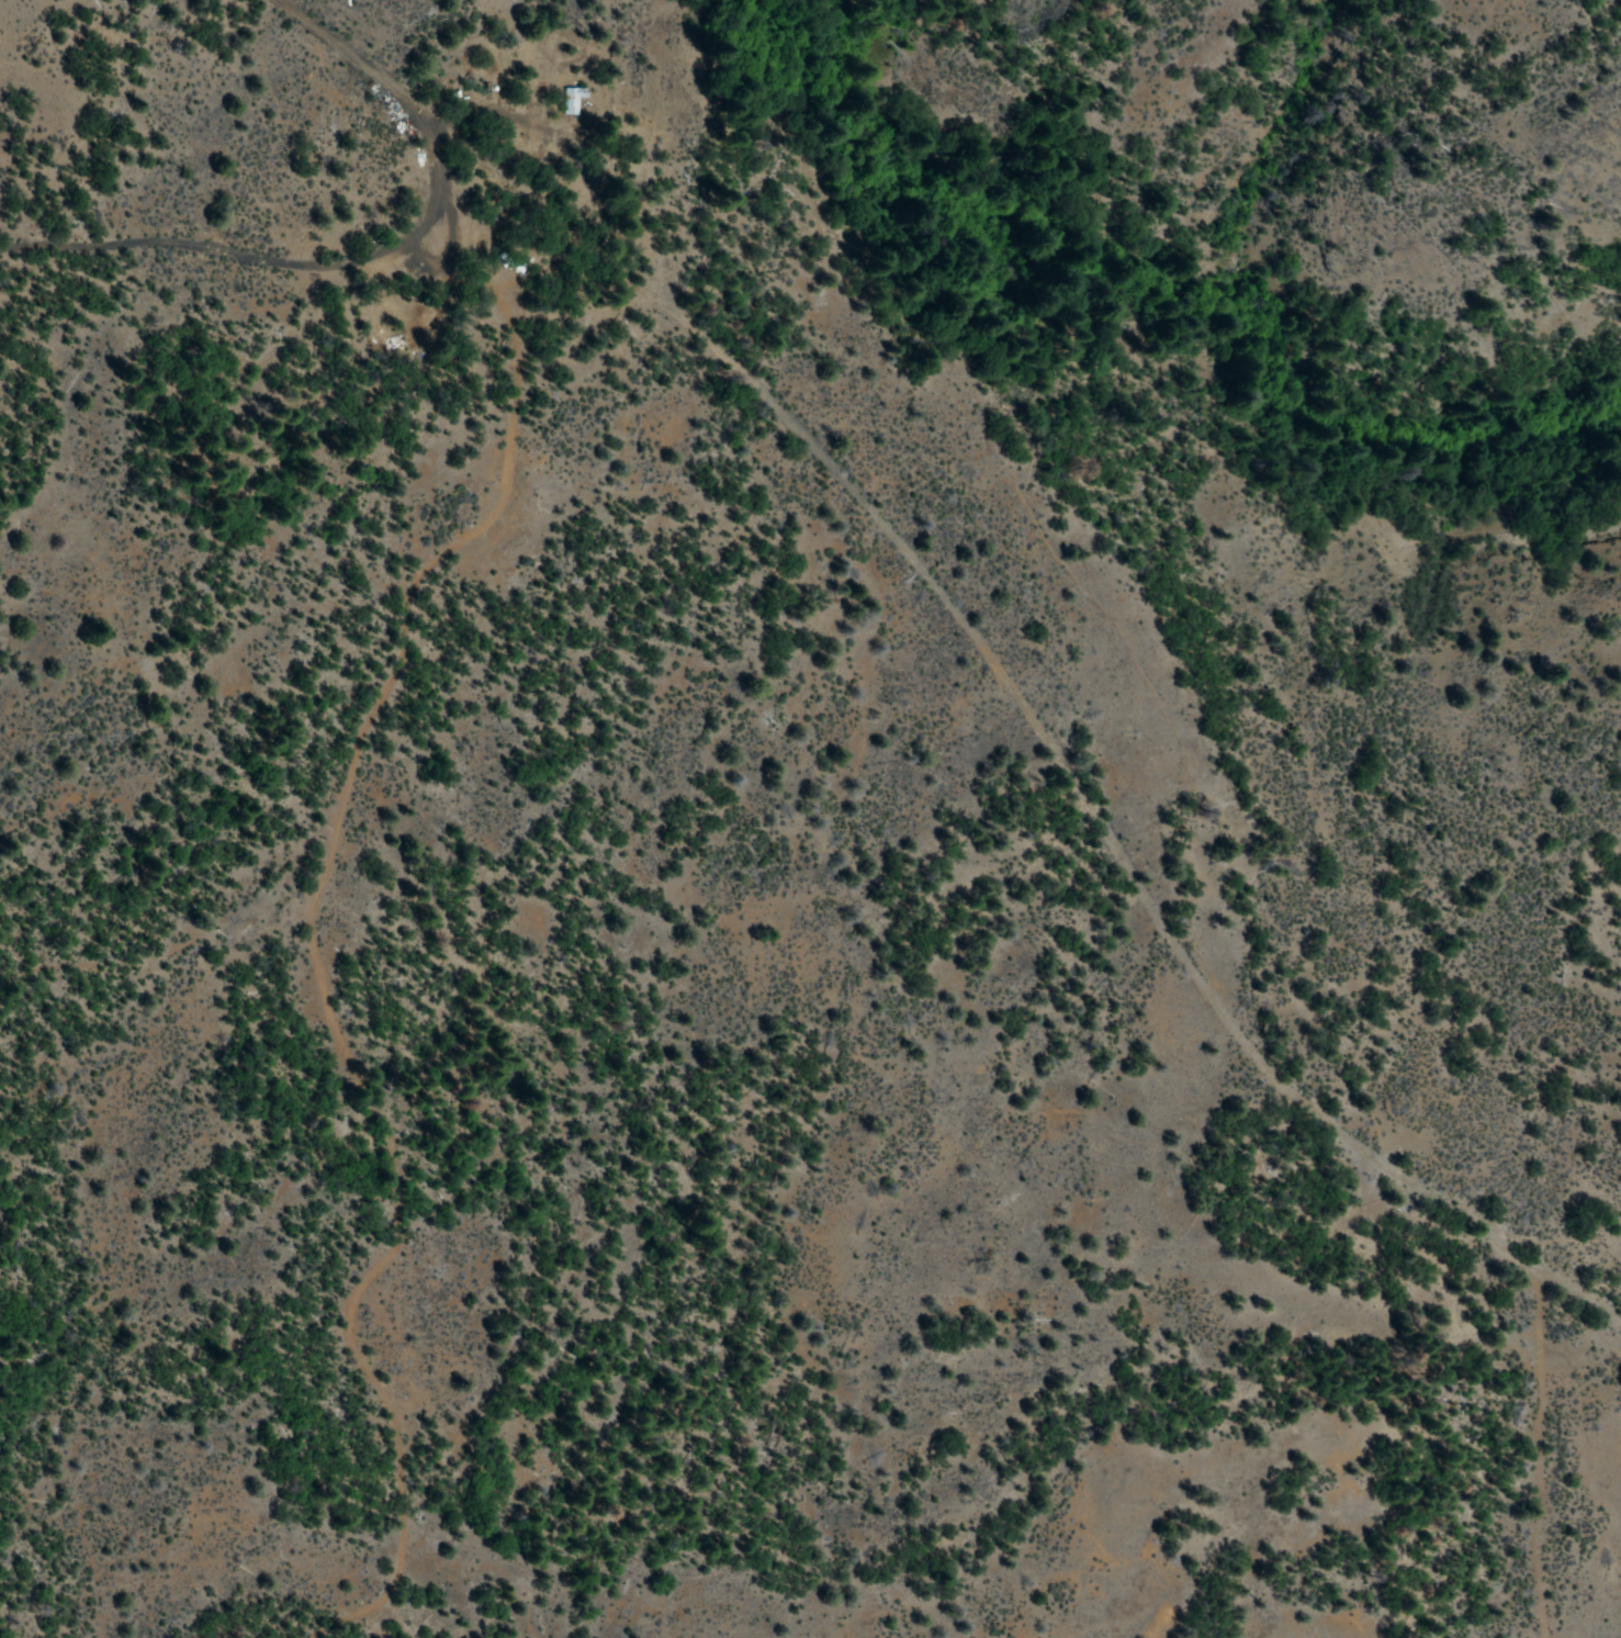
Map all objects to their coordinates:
building: (571, 99)
road: (849, 496)
road: (315, 906)

